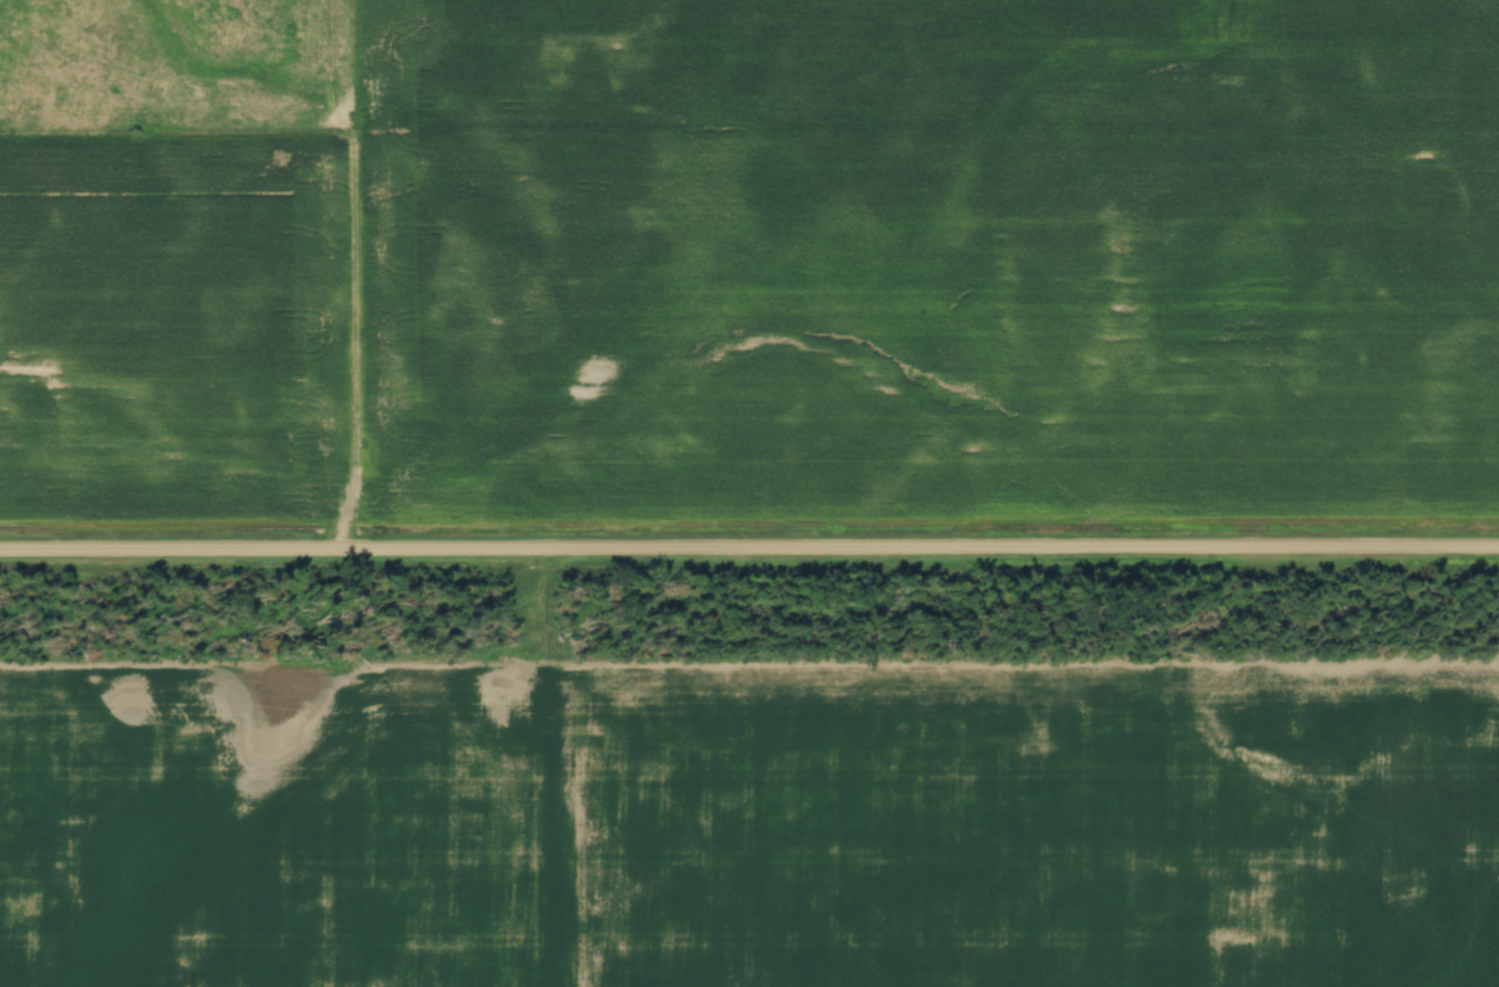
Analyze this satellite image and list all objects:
road: (749, 542)

